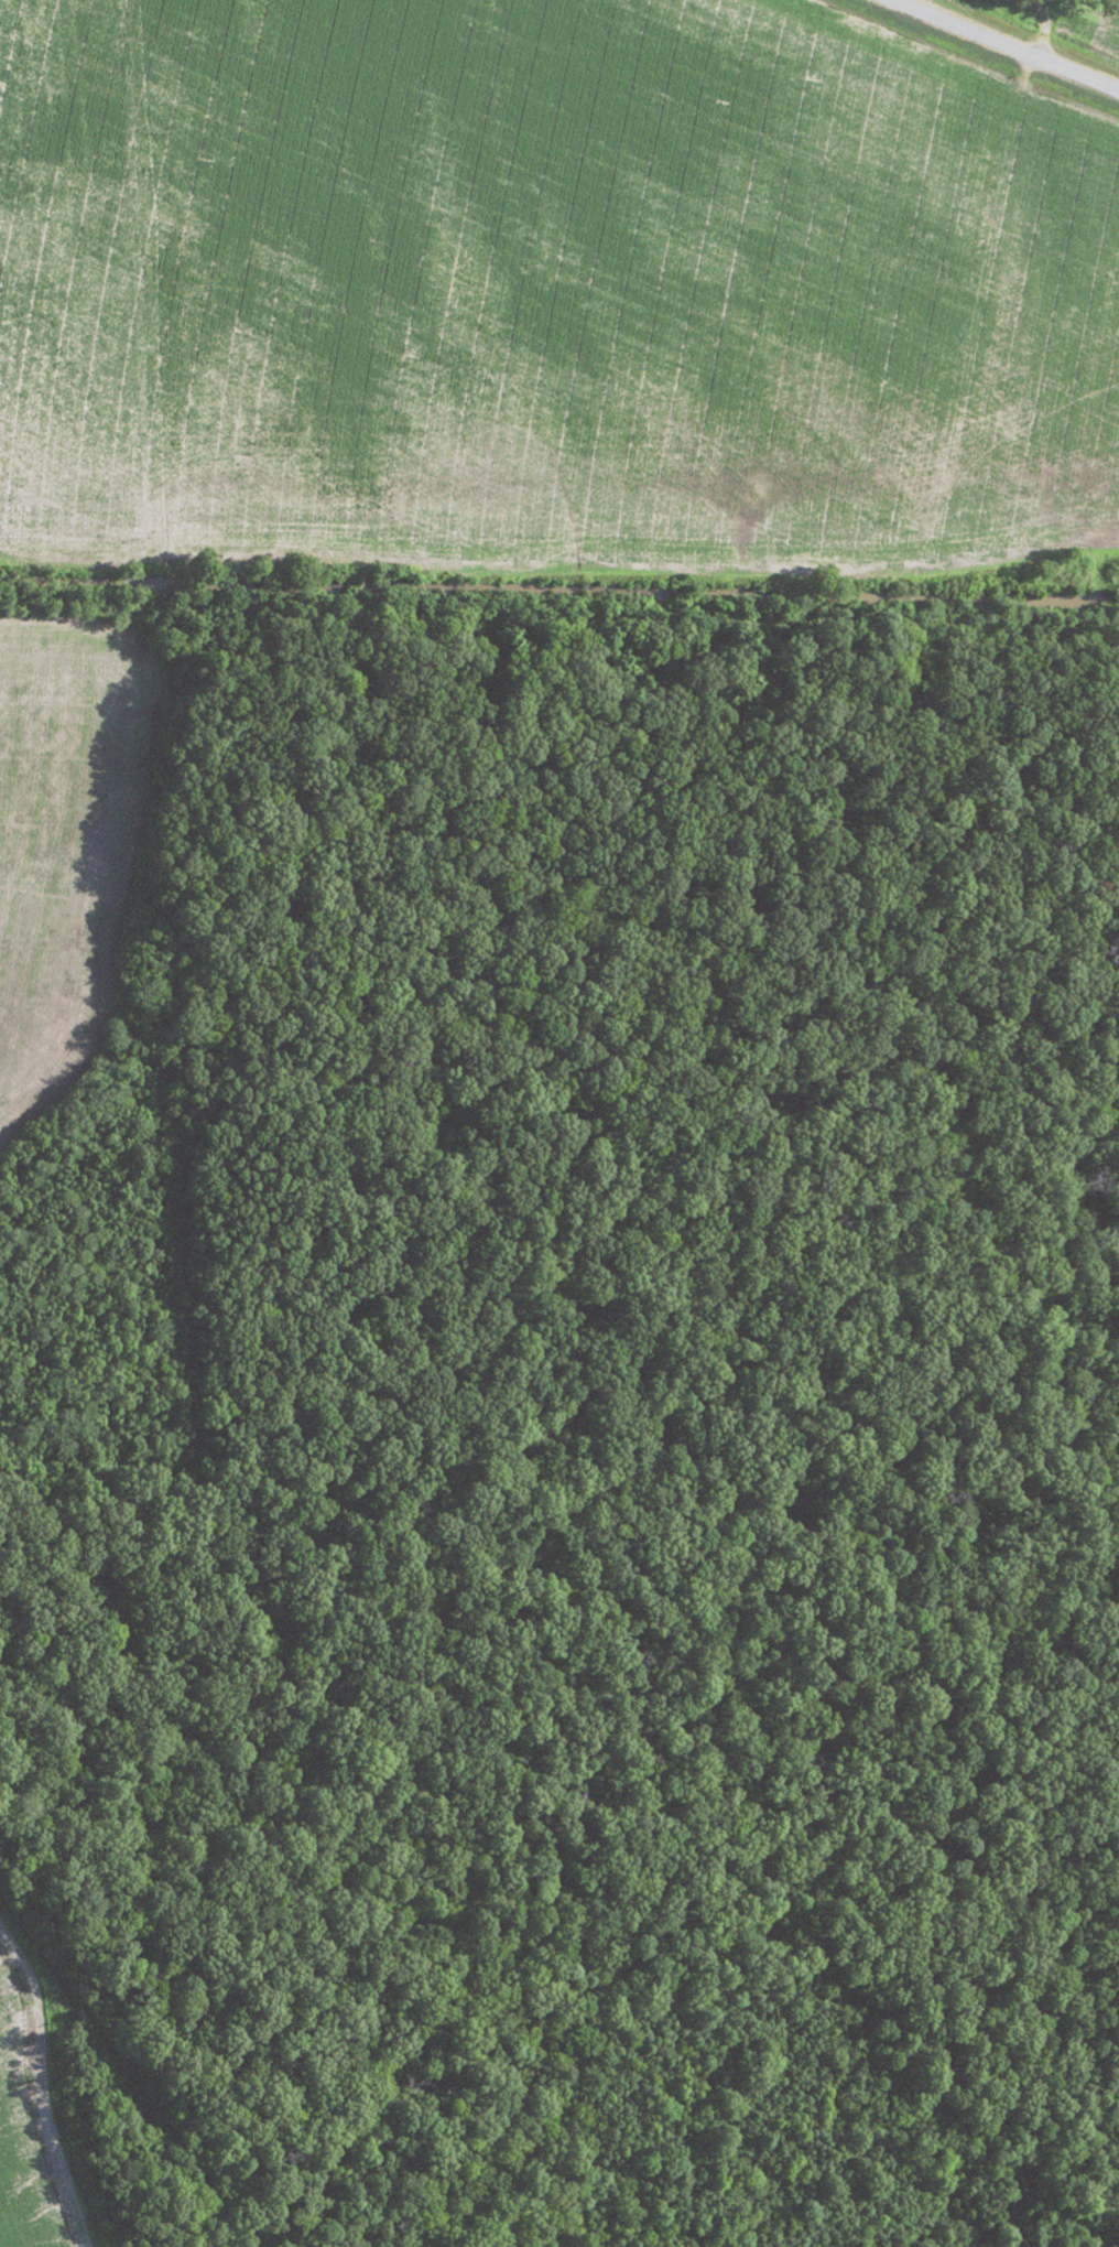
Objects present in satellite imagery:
road: (1042, 29)
road: (1001, 45)
road: (132, 277)

